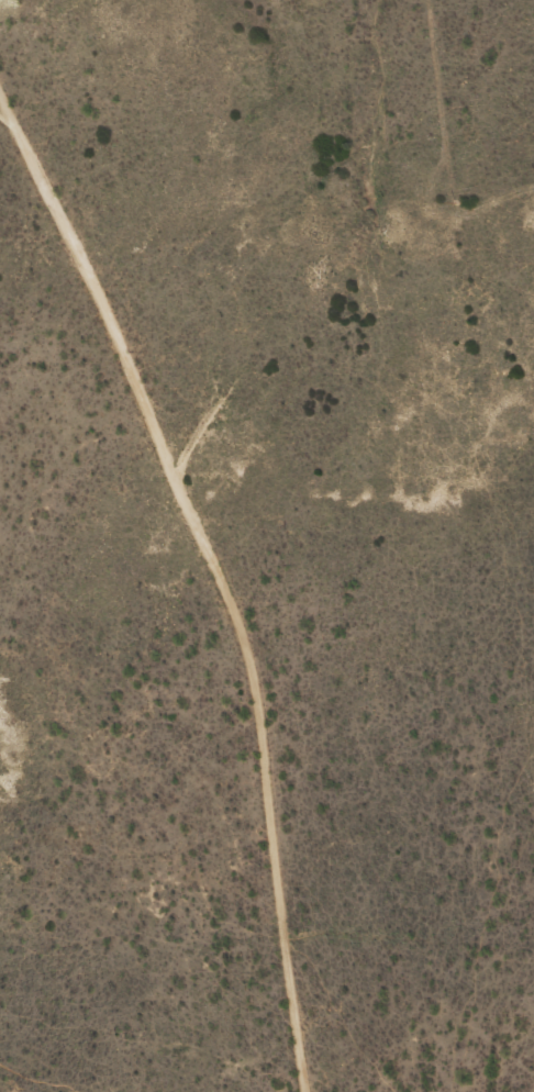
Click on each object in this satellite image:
road: (2, 1088)

